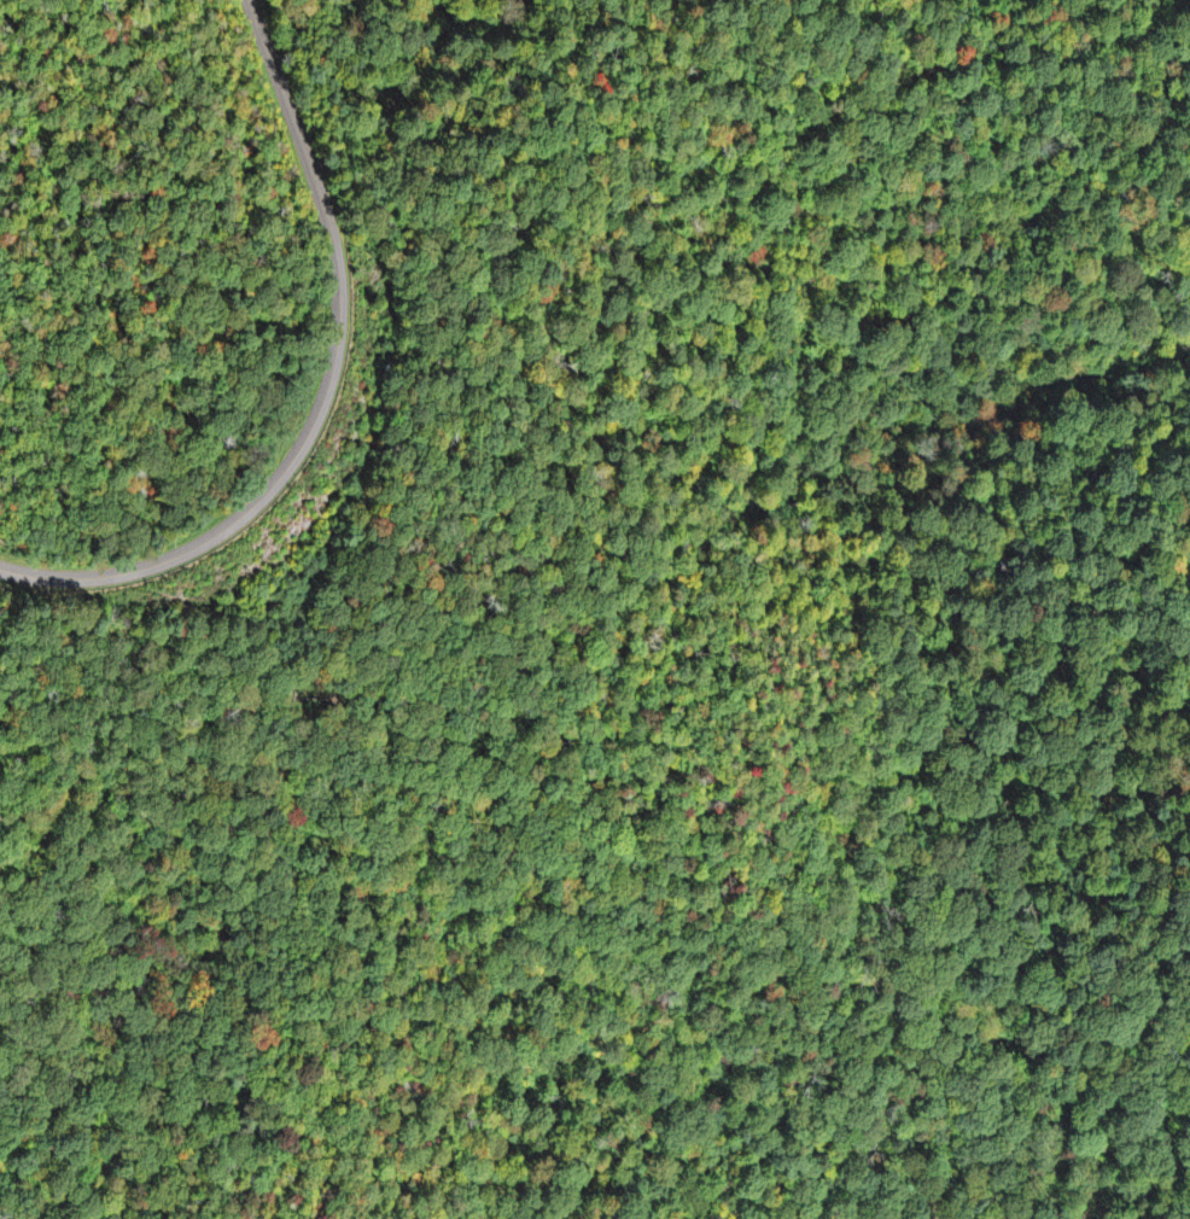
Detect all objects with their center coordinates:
road: (325, 391)
road: (733, 787)

